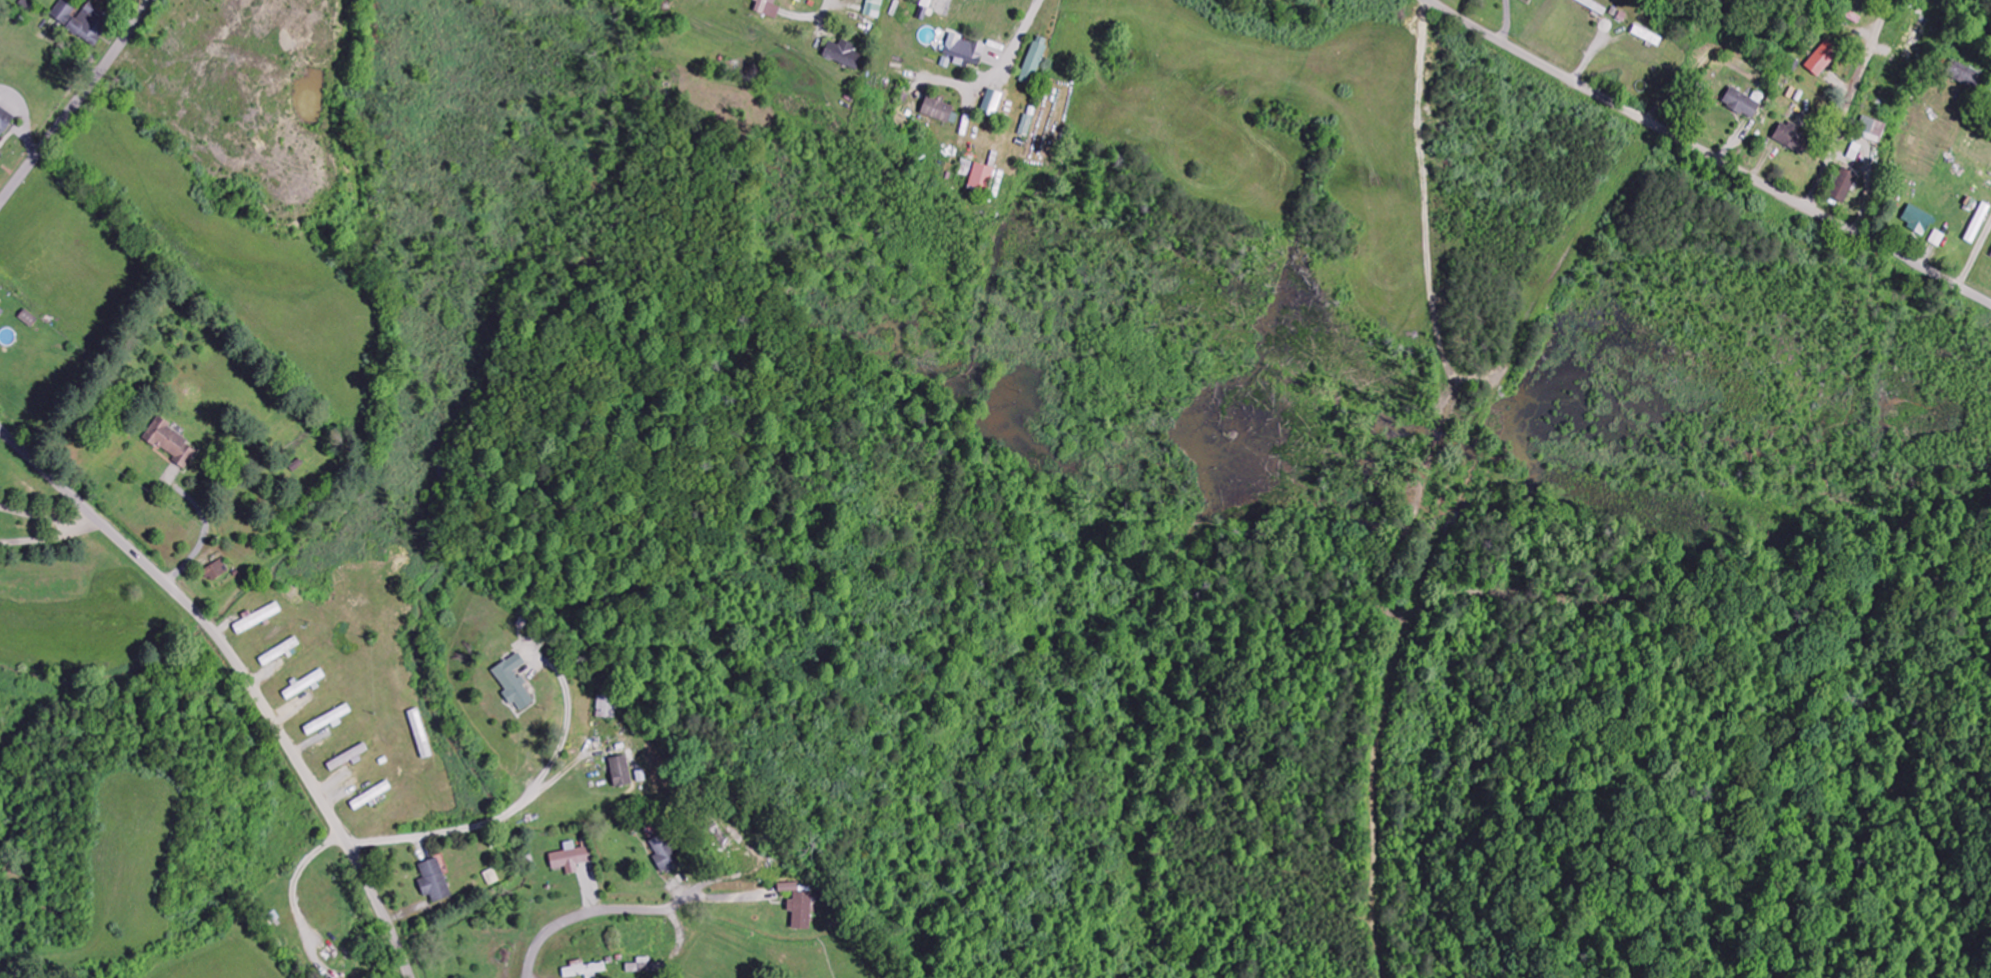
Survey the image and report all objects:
building: (928, 6)
building: (768, 8)
building: (874, 8)
building: (76, 23)
building: (965, 51)
building: (847, 55)
building: (1824, 59)
building: (1033, 63)
building: (992, 102)
road: (78, 104)
building: (1743, 104)
building: (938, 110)
building: (4, 121)
building: (1873, 130)
building: (1794, 138)
building: (0, 154)
road: (1707, 154)
building: (982, 179)
building: (1844, 186)
building: (1918, 220)
building: (1979, 223)
building: (1, 313)
building: (173, 445)
building: (217, 571)
building: (258, 618)
building: (280, 652)
road: (244, 673)
building: (514, 683)
building: (607, 707)
building: (328, 721)
building: (621, 771)
building: (371, 796)
building: (665, 855)
building: (571, 858)
building: (434, 881)
building: (800, 907)
building: (641, 966)
building: (583, 969)

